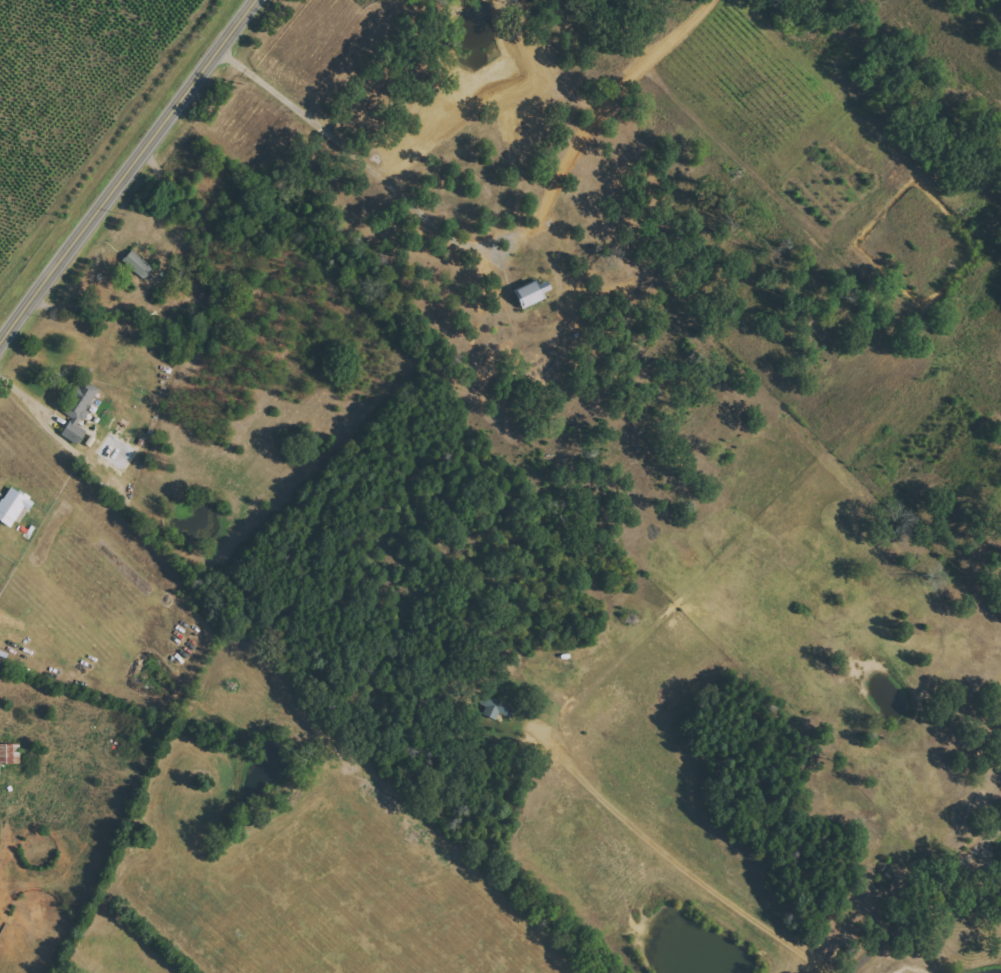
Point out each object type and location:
road: (992, 8)
road: (129, 173)
road: (488, 242)
building: (138, 265)
building: (533, 293)
road: (31, 398)
building: (79, 412)
building: (13, 506)
building: (497, 708)
building: (10, 754)
road: (986, 856)
road: (925, 896)

